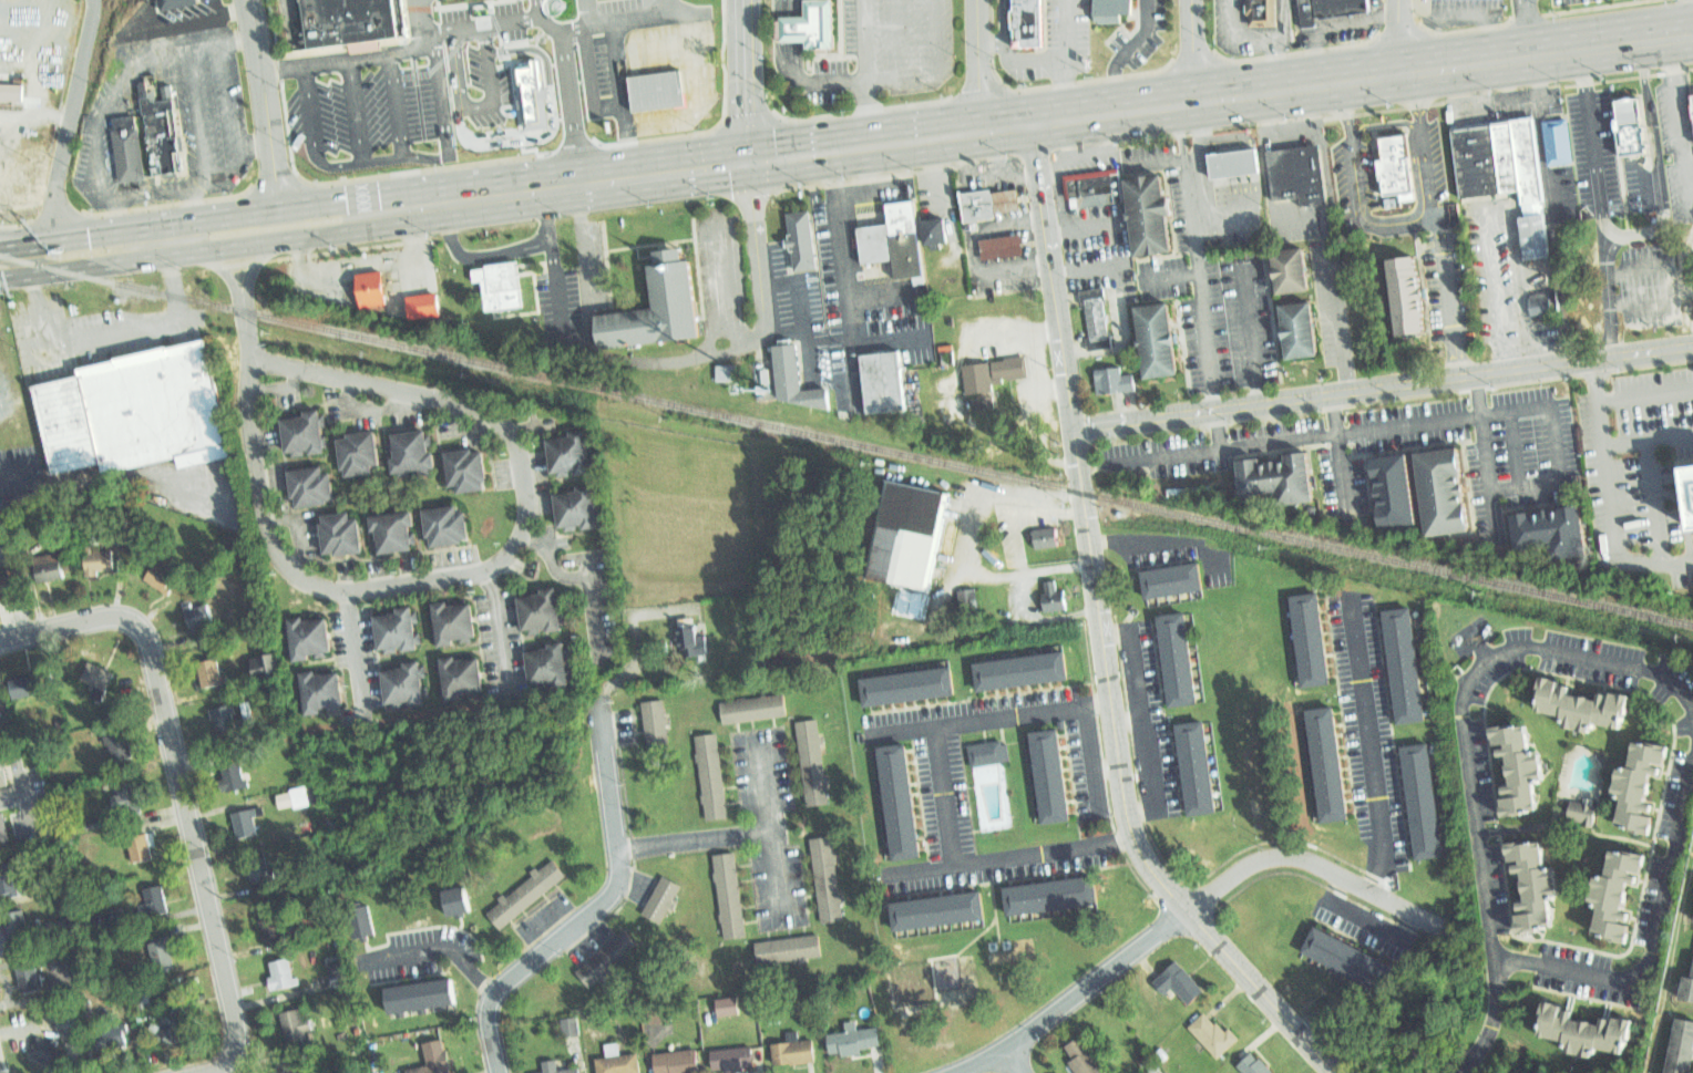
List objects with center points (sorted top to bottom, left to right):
road: (1449, 0)
building: (172, 3)
building: (1112, 3)
road: (669, 6)
building: (1324, 8)
road: (791, 9)
building: (1263, 10)
road: (589, 12)
road: (227, 14)
building: (345, 17)
road: (197, 18)
road: (504, 18)
building: (1035, 18)
road: (1358, 18)
road: (419, 23)
building: (813, 27)
road: (791, 29)
road: (1526, 30)
road: (236, 34)
road: (901, 34)
road: (1403, 39)
road: (994, 40)
road: (1262, 42)
road: (657, 43)
road: (1194, 52)
road: (1127, 54)
road: (1013, 56)
road: (1074, 59)
road: (463, 61)
road: (979, 65)
road: (1276, 68)
road: (275, 69)
road: (294, 71)
road: (887, 71)
road: (870, 72)
road: (617, 74)
road: (745, 80)
road: (573, 81)
building: (660, 84)
road: (189, 85)
road: (533, 85)
building: (8, 87)
road: (232, 99)
road: (437, 99)
road: (704, 101)
road: (1496, 101)
building: (1692, 102)
road: (397, 104)
building: (475, 104)
road: (358, 109)
road: (265, 112)
road: (1683, 113)
road: (85, 121)
building: (1631, 123)
building: (155, 126)
road: (71, 127)
road: (1107, 133)
building: (1560, 135)
road: (1075, 137)
road: (1545, 137)
building: (122, 145)
road: (255, 145)
road: (845, 148)
building: (1484, 154)
road: (583, 158)
building: (1525, 158)
building: (1391, 159)
road: (1157, 161)
building: (1232, 161)
traffic signals: (747, 162)
road: (1055, 164)
building: (1299, 166)
road: (999, 167)
building: (34, 179)
road: (1355, 187)
building: (1094, 188)
road: (950, 196)
building: (989, 198)
road: (1497, 204)
building: (1148, 208)
road: (1225, 215)
road: (1083, 221)
road: (1437, 225)
building: (933, 227)
road: (23, 231)
building: (802, 231)
building: (890, 235)
building: (1536, 236)
road: (1635, 236)
road: (587, 245)
building: (999, 245)
road: (413, 248)
road: (479, 255)
road: (1198, 256)
road: (552, 261)
building: (1289, 261)
road: (1016, 265)
road: (1089, 266)
road: (841, 267)
road: (1171, 276)
road: (302, 279)
road: (1676, 279)
building: (494, 282)
building: (372, 289)
building: (1402, 289)
road: (1609, 291)
road: (876, 293)
road: (240, 296)
road: (1333, 297)
building: (1545, 299)
road: (804, 300)
building: (658, 302)
building: (422, 305)
building: (1097, 318)
road: (762, 319)
building: (1296, 322)
road: (162, 324)
road: (1030, 329)
building: (1155, 331)
road: (1251, 331)
road: (1045, 333)
road: (830, 338)
road: (1119, 350)
road: (691, 359)
building: (992, 367)
building: (726, 372)
building: (798, 376)
building: (1114, 378)
building: (887, 382)
road: (1382, 384)
road: (1053, 390)
building: (984, 394)
road: (1645, 394)
building: (983, 402)
road: (1527, 410)
building: (127, 411)
road: (1332, 413)
building: (302, 424)
road: (1217, 427)
road: (1384, 429)
road: (1649, 437)
railway: (845, 439)
building: (567, 445)
building: (412, 446)
road: (1222, 446)
building: (358, 447)
road: (1484, 454)
parking lot: (1164, 461)
building: (469, 465)
building: (1690, 473)
building: (1272, 476)
road: (16, 482)
building: (310, 482)
road: (1525, 485)
building: (1392, 489)
building: (1440, 489)
road: (1611, 492)
road: (1655, 501)
building: (578, 505)
road: (999, 513)
road: (1686, 516)
building: (449, 524)
building: (1549, 529)
building: (394, 530)
building: (339, 537)
building: (1047, 537)
building: (912, 538)
road: (1156, 539)
road: (276, 551)
building: (99, 564)
building: (48, 567)
road: (586, 571)
building: (160, 578)
building: (1171, 579)
building: (6, 587)
building: (1055, 597)
building: (967, 601)
building: (538, 611)
building: (199, 613)
building: (453, 617)
building: (398, 626)
road: (500, 627)
building: (1312, 632)
building: (309, 633)
road: (1101, 636)
building: (697, 637)
road: (353, 646)
building: (1181, 661)
building: (1406, 661)
building: (265, 664)
building: (548, 664)
building: (1026, 670)
building: (96, 674)
building: (209, 674)
building: (461, 675)
building: (406, 682)
building: (27, 683)
building: (909, 687)
building: (320, 690)
building: (0, 691)
building: (1582, 704)
building: (752, 708)
road: (1128, 716)
building: (659, 718)
road: (1143, 718)
building: (223, 720)
road: (951, 724)
road: (906, 731)
building: (119, 744)
road: (1368, 746)
building: (992, 751)
road: (1092, 757)
building: (818, 759)
building: (1330, 762)
building: (1520, 768)
building: (1200, 770)
building: (233, 774)
building: (712, 774)
building: (2, 775)
building: (1051, 777)
road: (183, 788)
building: (1640, 788)
road: (14, 796)
building: (125, 797)
building: (293, 797)
building: (903, 798)
road: (30, 802)
building: (1422, 802)
building: (1583, 811)
building: (245, 824)
road: (770, 827)
building: (2, 829)
road: (696, 837)
building: (140, 845)
road: (1016, 858)
road: (620, 859)
building: (258, 868)
building: (830, 878)
building: (6, 881)
building: (1535, 888)
building: (530, 893)
building: (732, 895)
building: (1621, 895)
road: (270, 896)
building: (1054, 897)
road: (1658, 898)
building: (458, 900)
building: (154, 901)
building: (664, 901)
road: (1193, 906)
building: (940, 914)
road: (1367, 920)
building: (14, 921)
building: (365, 922)
building: (271, 930)
road: (437, 948)
building: (788, 948)
building: (162, 951)
building: (604, 955)
building: (1350, 959)
building: (337, 970)
building: (29, 976)
building: (281, 978)
building: (1179, 980)
building: (1687, 983)
building: (423, 993)
building: (727, 1005)
road: (1495, 1010)
building: (176, 1017)
building: (570, 1025)
building: (296, 1026)
building: (1215, 1031)
building: (1582, 1033)
building: (109, 1034)
building: (853, 1041)
building: (1681, 1048)
building: (796, 1053)
building: (48, 1054)
building: (732, 1057)
building: (1084, 1057)
building: (437, 1061)
road: (1012, 1061)
road: (1459, 1061)
building: (680, 1062)
building: (617, 1064)
building: (1255, 1065)
building: (284, 1066)
road: (1475, 1066)
building: (573, 1072)

